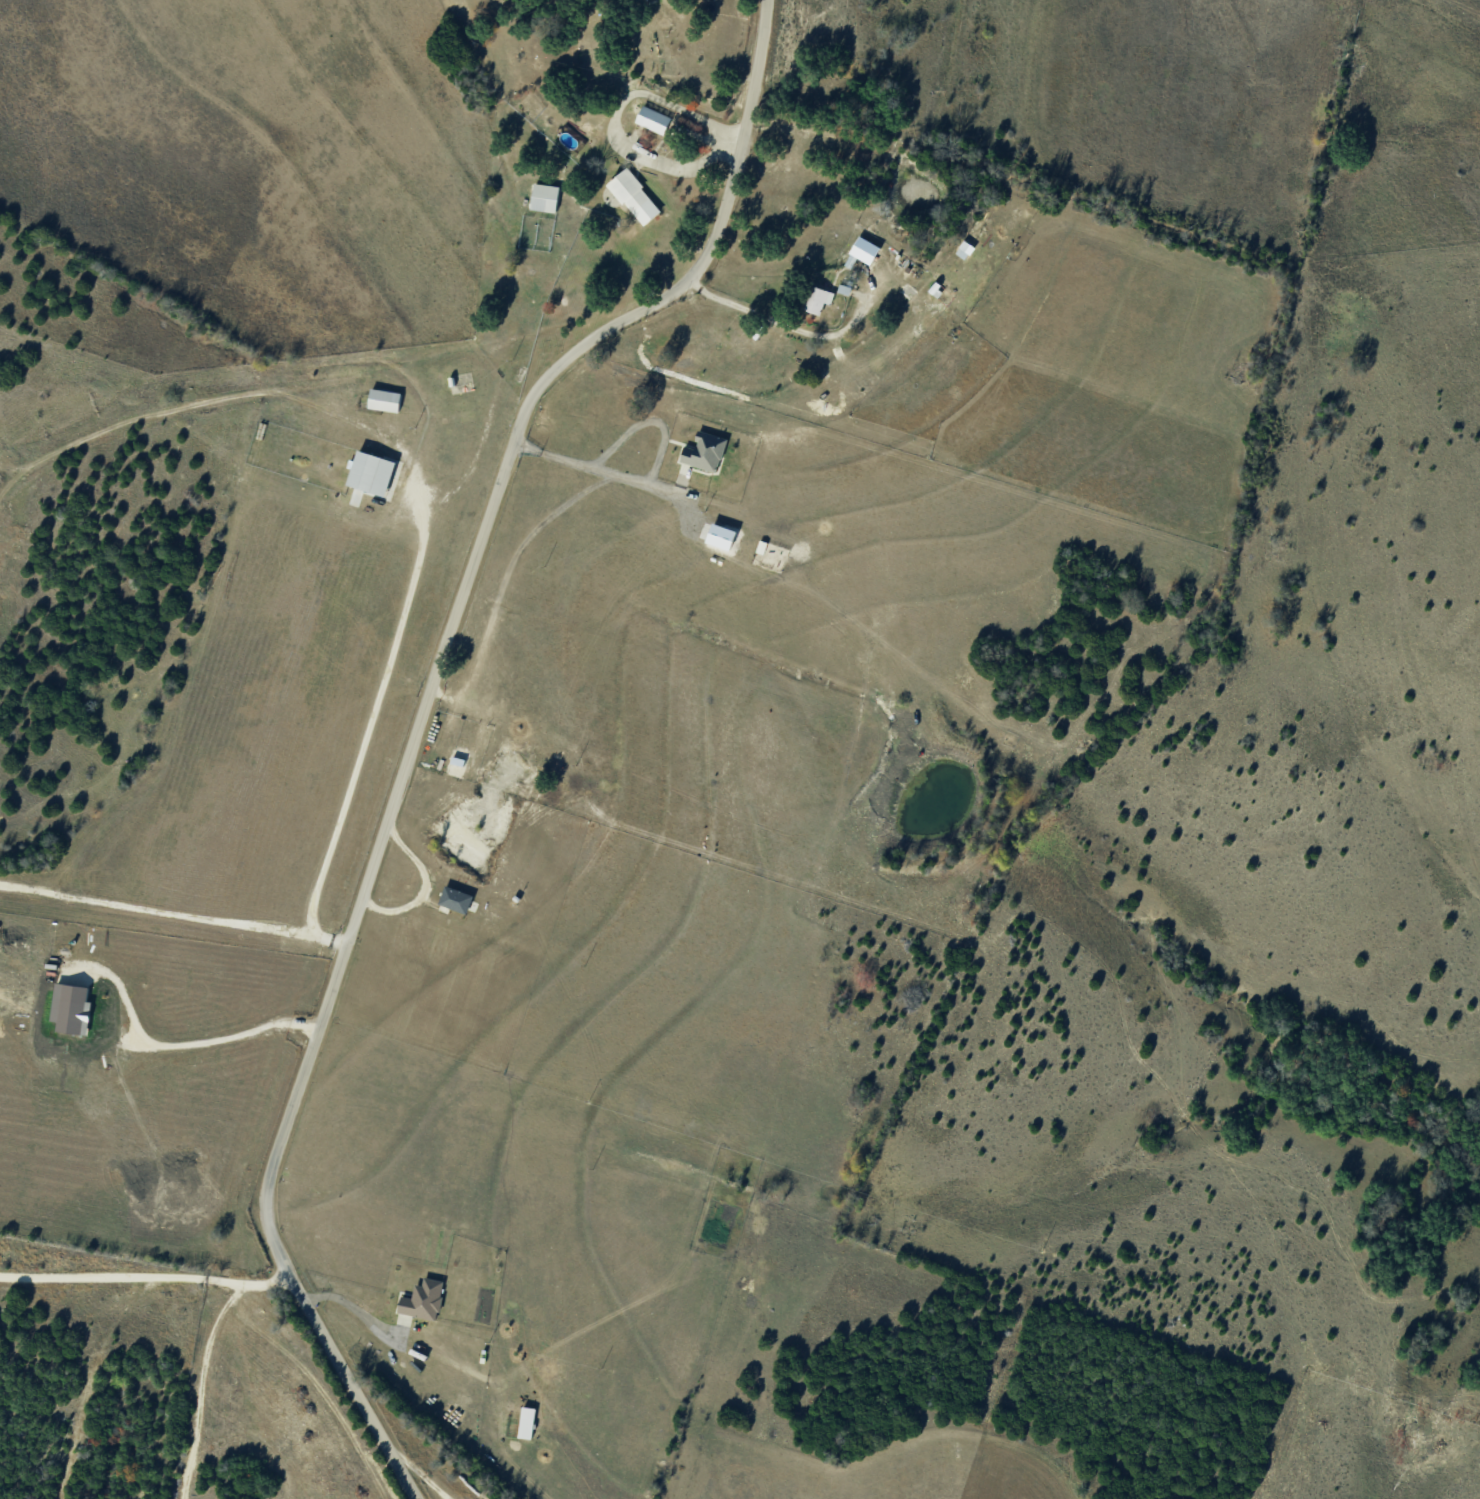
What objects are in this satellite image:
building: (653, 120)
building: (634, 196)
building: (544, 197)
building: (817, 299)
road: (278, 388)
building: (384, 399)
building: (371, 473)
road: (421, 724)
road: (174, 913)

